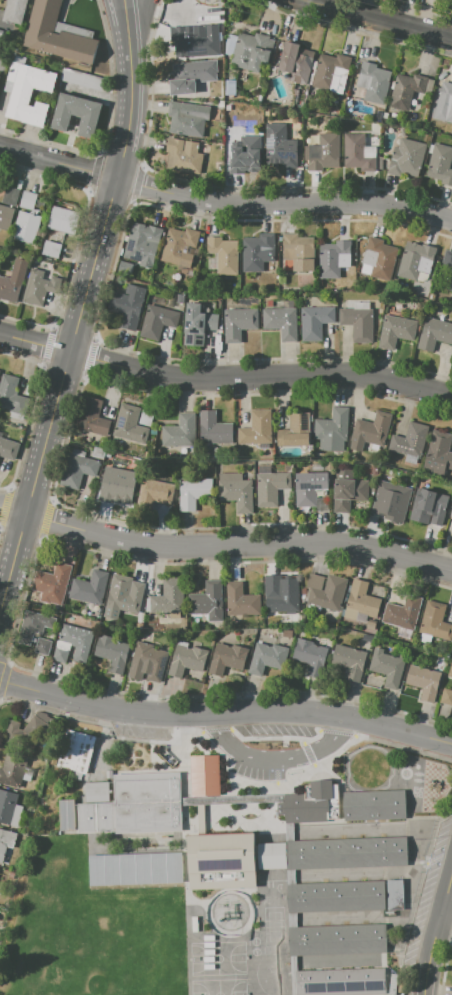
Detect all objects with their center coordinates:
building: (15, 11)
road: (377, 19)
building: (60, 34)
building: (1, 37)
building: (195, 40)
building: (249, 50)
building: (296, 62)
building: (331, 72)
building: (191, 76)
building: (82, 79)
building: (373, 82)
building: (408, 89)
building: (27, 93)
building: (444, 103)
building: (76, 114)
building: (385, 115)
building: (394, 116)
building: (188, 119)
building: (280, 147)
building: (358, 152)
building: (323, 153)
building: (246, 155)
building: (184, 157)
building: (407, 159)
building: (441, 164)
building: (10, 196)
building: (28, 201)
road: (223, 202)
building: (6, 217)
building: (64, 220)
building: (27, 226)
building: (143, 244)
building: (179, 247)
building: (51, 249)
building: (257, 252)
building: (299, 252)
building: (222, 256)
building: (333, 258)
building: (379, 259)
building: (416, 262)
building: (445, 272)
building: (38, 288)
building: (9, 289)
building: (179, 298)
building: (270, 303)
building: (127, 305)
road: (83, 310)
building: (282, 320)
building: (157, 321)
building: (315, 321)
building: (358, 322)
building: (239, 323)
building: (198, 324)
building: (397, 330)
building: (434, 333)
road: (224, 378)
building: (12, 396)
building: (92, 417)
building: (146, 417)
building: (130, 425)
building: (257, 428)
building: (372, 428)
building: (214, 429)
building: (332, 430)
building: (295, 431)
building: (180, 432)
building: (410, 442)
building: (8, 448)
building: (99, 452)
building: (438, 454)
building: (329, 465)
building: (318, 466)
building: (77, 469)
building: (121, 483)
building: (270, 486)
building: (309, 488)
building: (347, 490)
building: (160, 491)
building: (194, 491)
building: (236, 491)
building: (391, 501)
building: (428, 506)
building: (451, 514)
road: (224, 545)
building: (51, 583)
building: (89, 588)
building: (325, 592)
building: (122, 596)
building: (167, 596)
building: (282, 597)
building: (240, 600)
building: (207, 601)
building: (361, 602)
building: (403, 612)
building: (435, 620)
building: (33, 626)
building: (73, 643)
building: (43, 646)
building: (112, 652)
building: (310, 656)
building: (227, 658)
building: (268, 659)
building: (150, 660)
building: (186, 660)
building: (349, 660)
building: (387, 667)
building: (450, 671)
building: (423, 681)
building: (446, 696)
road: (225, 713)
parking lot: (141, 731)
parking lot: (277, 731)
building: (18, 736)
building: (75, 751)
road: (275, 760)
building: (13, 768)
parking lot: (258, 772)
building: (109, 774)
building: (205, 776)
building: (96, 791)
building: (147, 802)
building: (309, 802)
building: (374, 805)
building: (9, 808)
building: (66, 815)
building: (95, 817)
building: (6, 841)
building: (347, 854)
building: (272, 856)
building: (222, 861)
building: (135, 868)
parking lot: (426, 892)
building: (394, 894)
building: (335, 896)
road: (447, 914)
road: (435, 935)
building: (337, 939)
park: (218, 958)
building: (451, 972)
building: (340, 981)
park: (219, 987)

